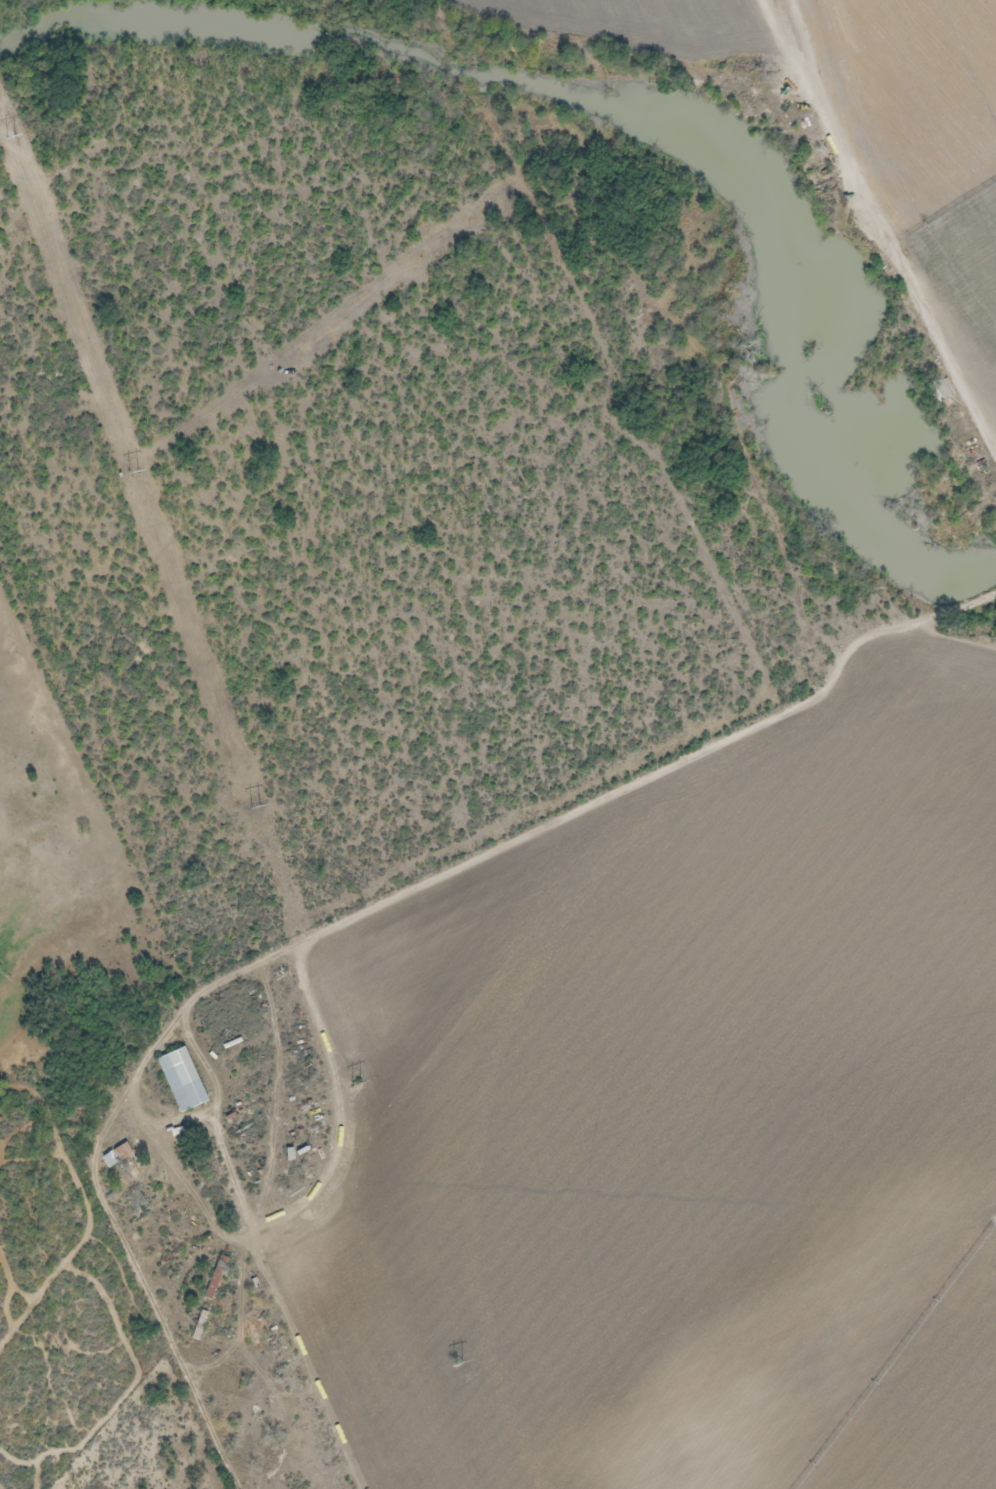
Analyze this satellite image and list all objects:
power tower: (11, 137)
power tower: (133, 472)
power tower: (254, 807)
building: (180, 1080)
power tower: (356, 1084)
building: (115, 1156)
building: (135, 1180)
building: (211, 1284)
building: (197, 1326)
power tower: (455, 1362)
building: (292, 1386)
building: (244, 1439)

